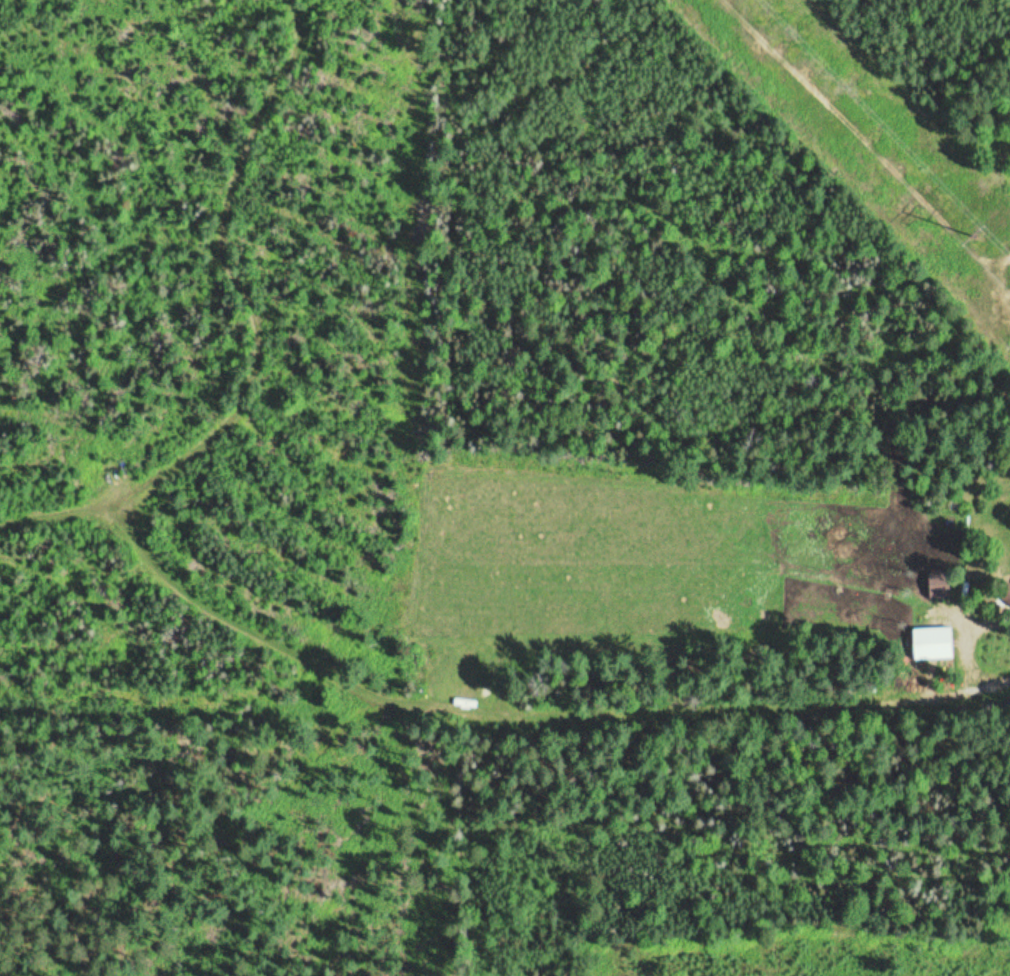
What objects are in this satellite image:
power tower: (976, 234)
building: (941, 583)
building: (937, 643)

